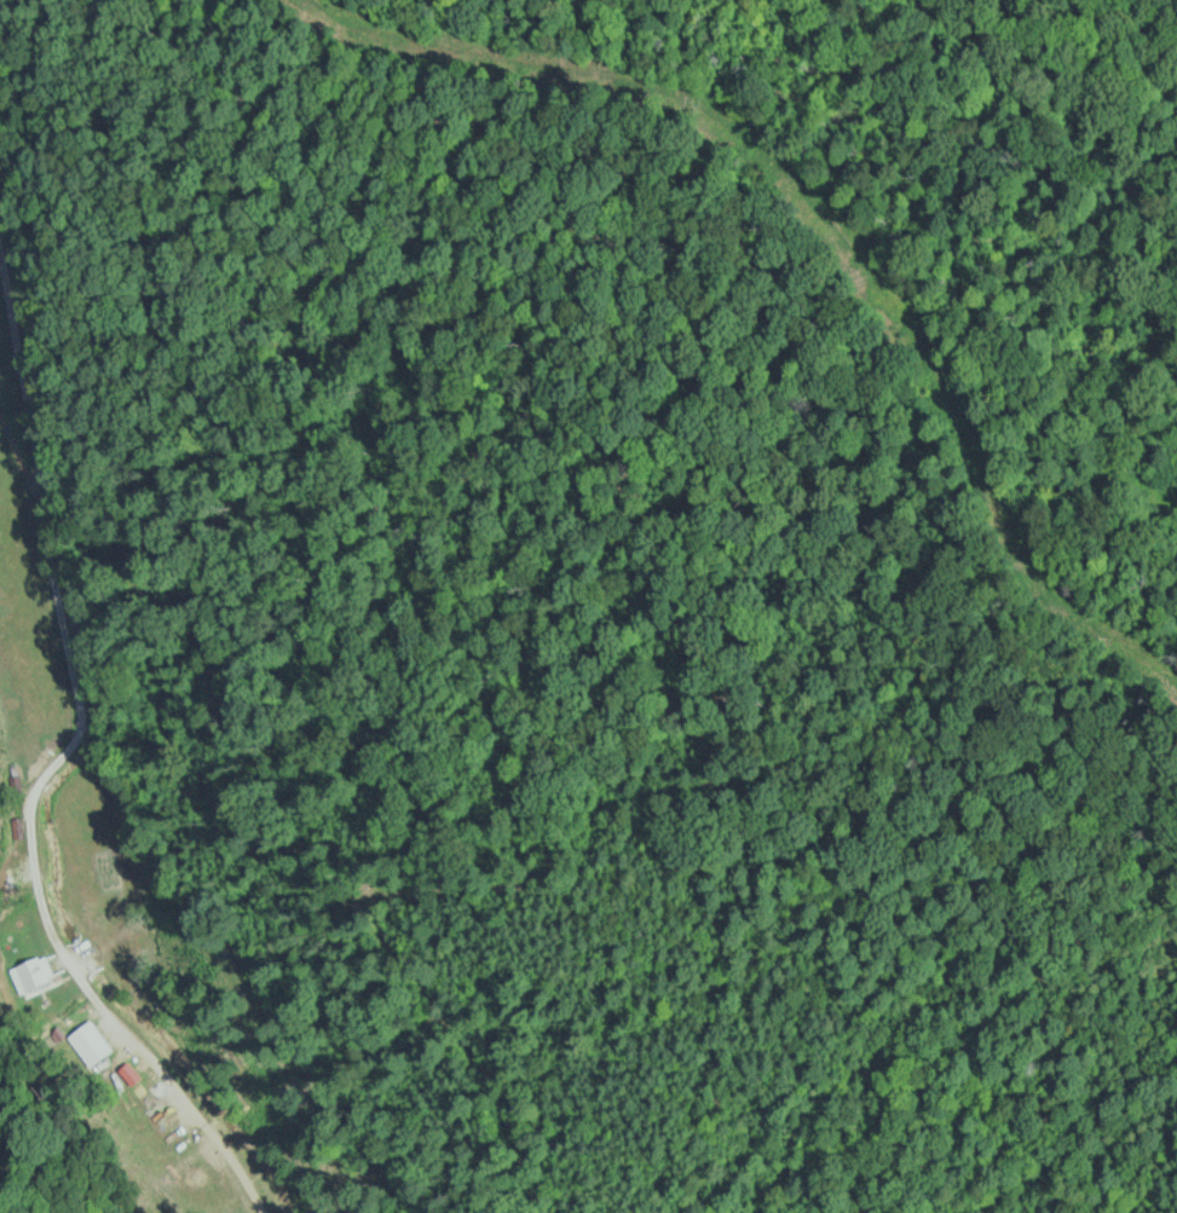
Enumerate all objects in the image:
road: (41, 841)
building: (30, 974)

